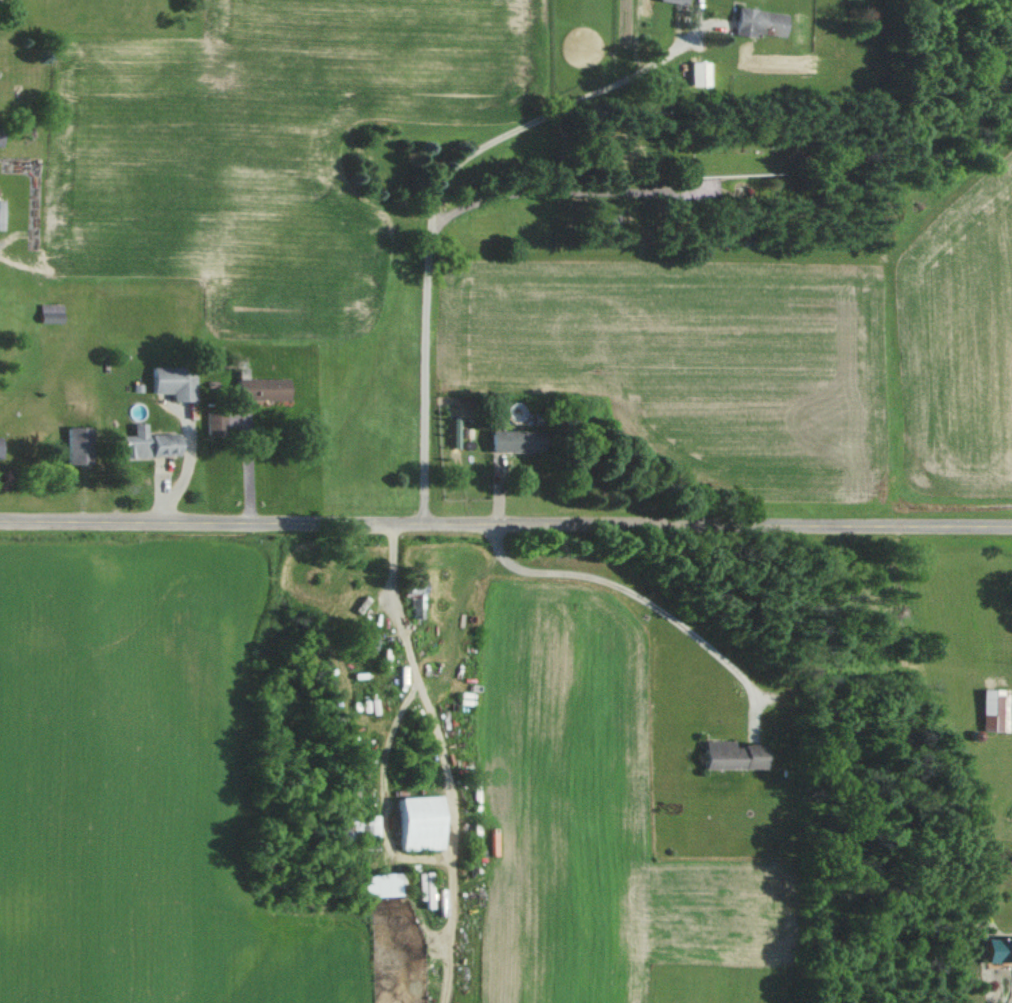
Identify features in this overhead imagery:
building: (668, 1)
building: (752, 22)
building: (692, 73)
road: (516, 192)
road: (421, 205)
building: (42, 313)
building: (165, 381)
building: (253, 388)
building: (502, 440)
building: (138, 443)
building: (64, 444)
road: (236, 459)
road: (505, 524)
building: (433, 578)
building: (399, 593)
road: (625, 597)
building: (349, 640)
building: (372, 660)
building: (986, 709)
building: (718, 754)
building: (402, 823)
building: (345, 827)
building: (990, 948)

